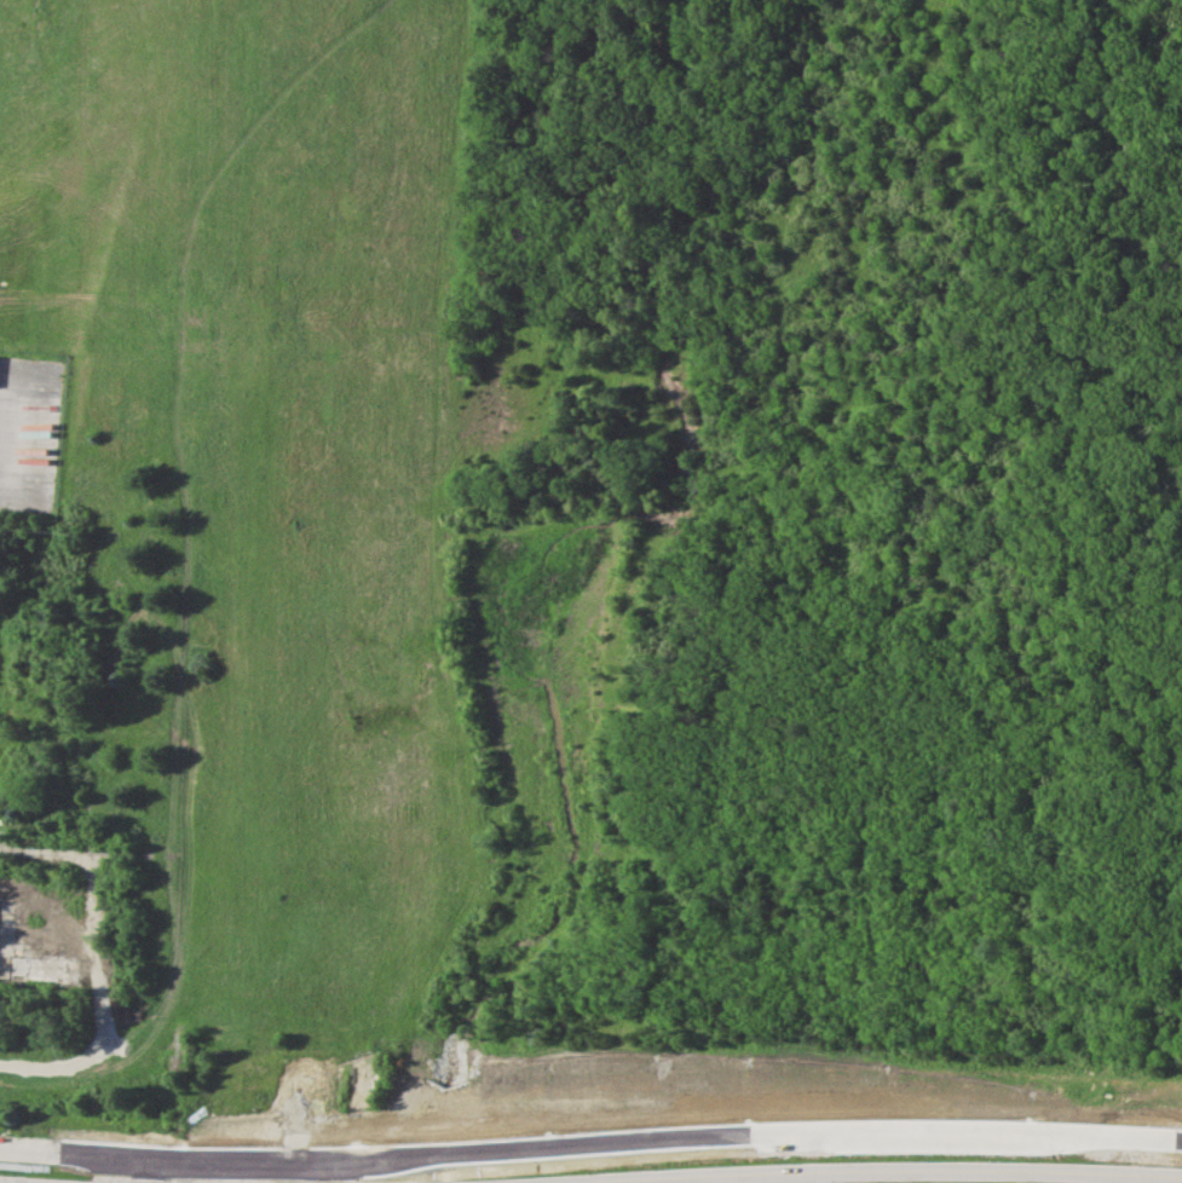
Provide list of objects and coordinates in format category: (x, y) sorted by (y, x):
building: (6, 923)
road: (96, 1155)
road: (910, 1172)
road: (797, 1178)
road: (1115, 1181)
road: (2, 1182)

